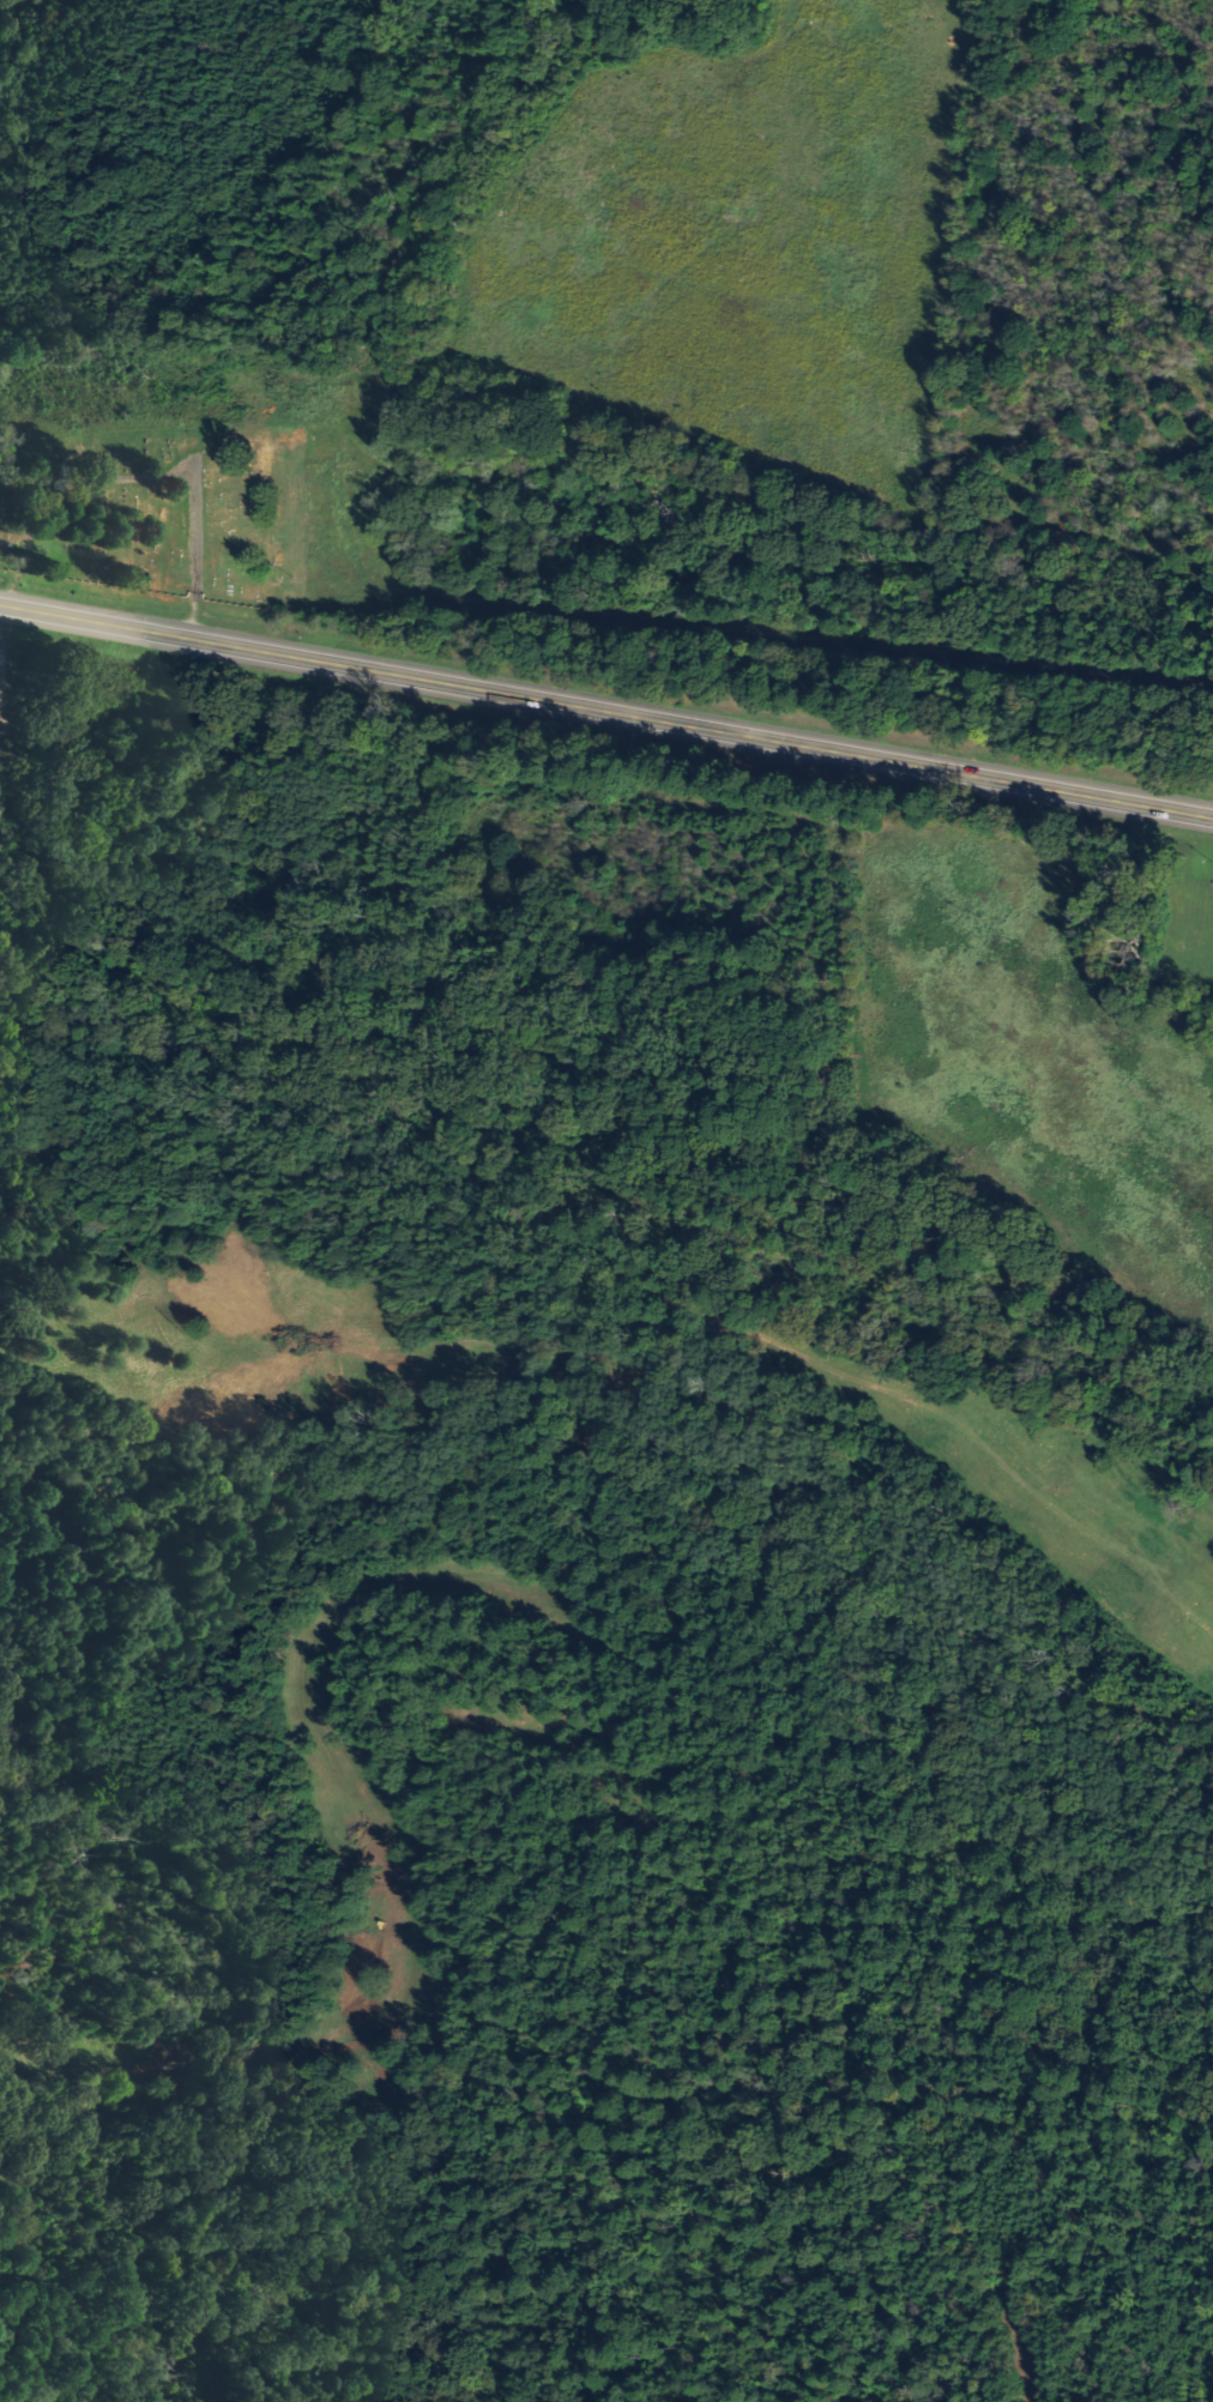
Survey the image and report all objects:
road: (128, 477)
park: (161, 478)
road: (1, 623)
park: (2, 696)
road: (606, 701)

